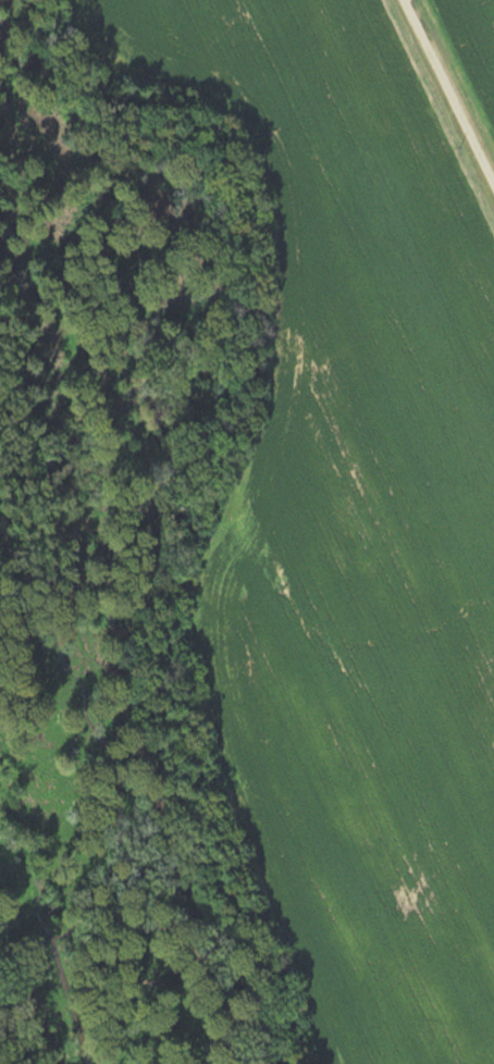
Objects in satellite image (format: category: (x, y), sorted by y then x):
road: (456, 76)

